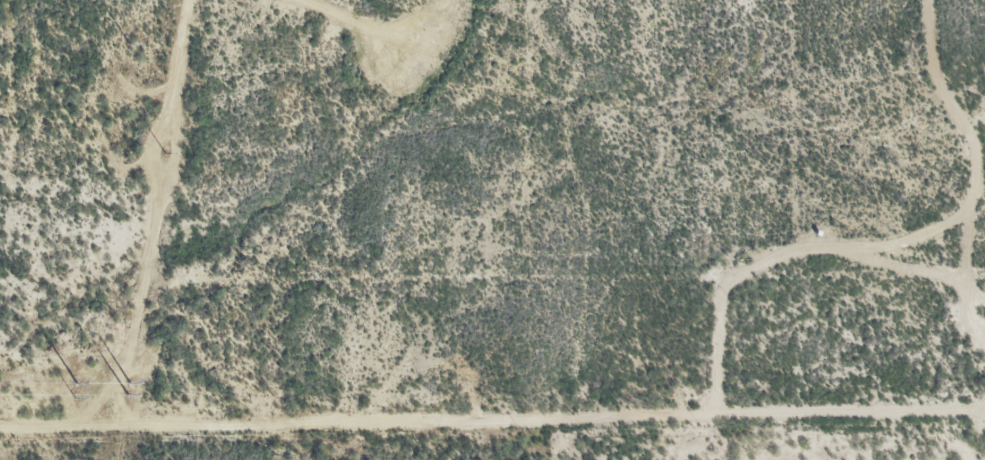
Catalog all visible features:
power tower: (129, 45)
power tower: (165, 152)
power tower: (78, 384)

